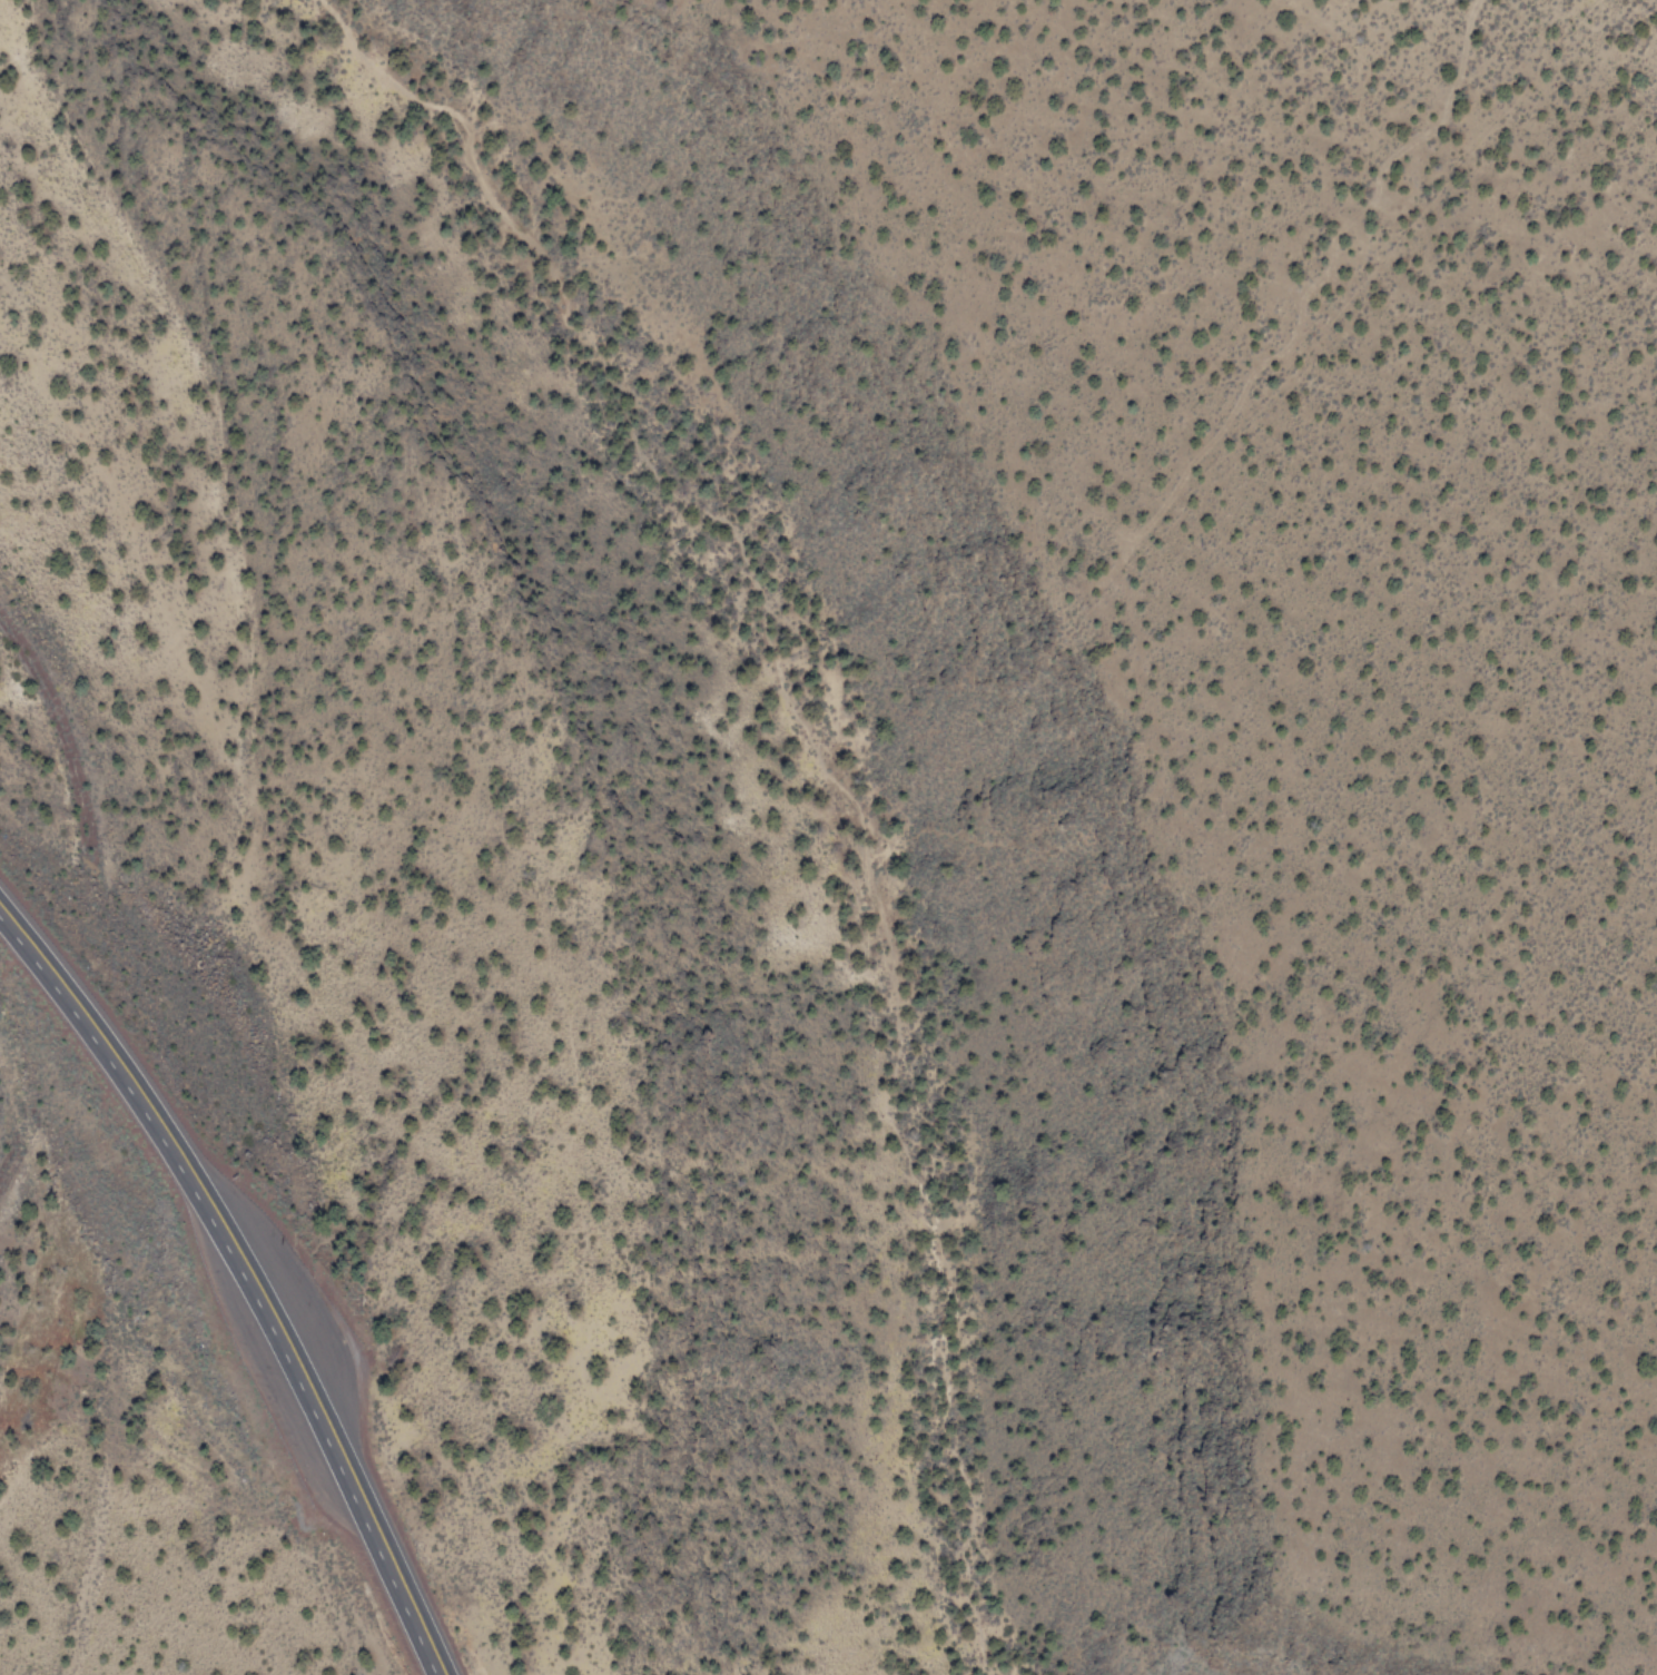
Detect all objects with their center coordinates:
road: (1305, 311)
road: (825, 761)
road: (251, 1272)

